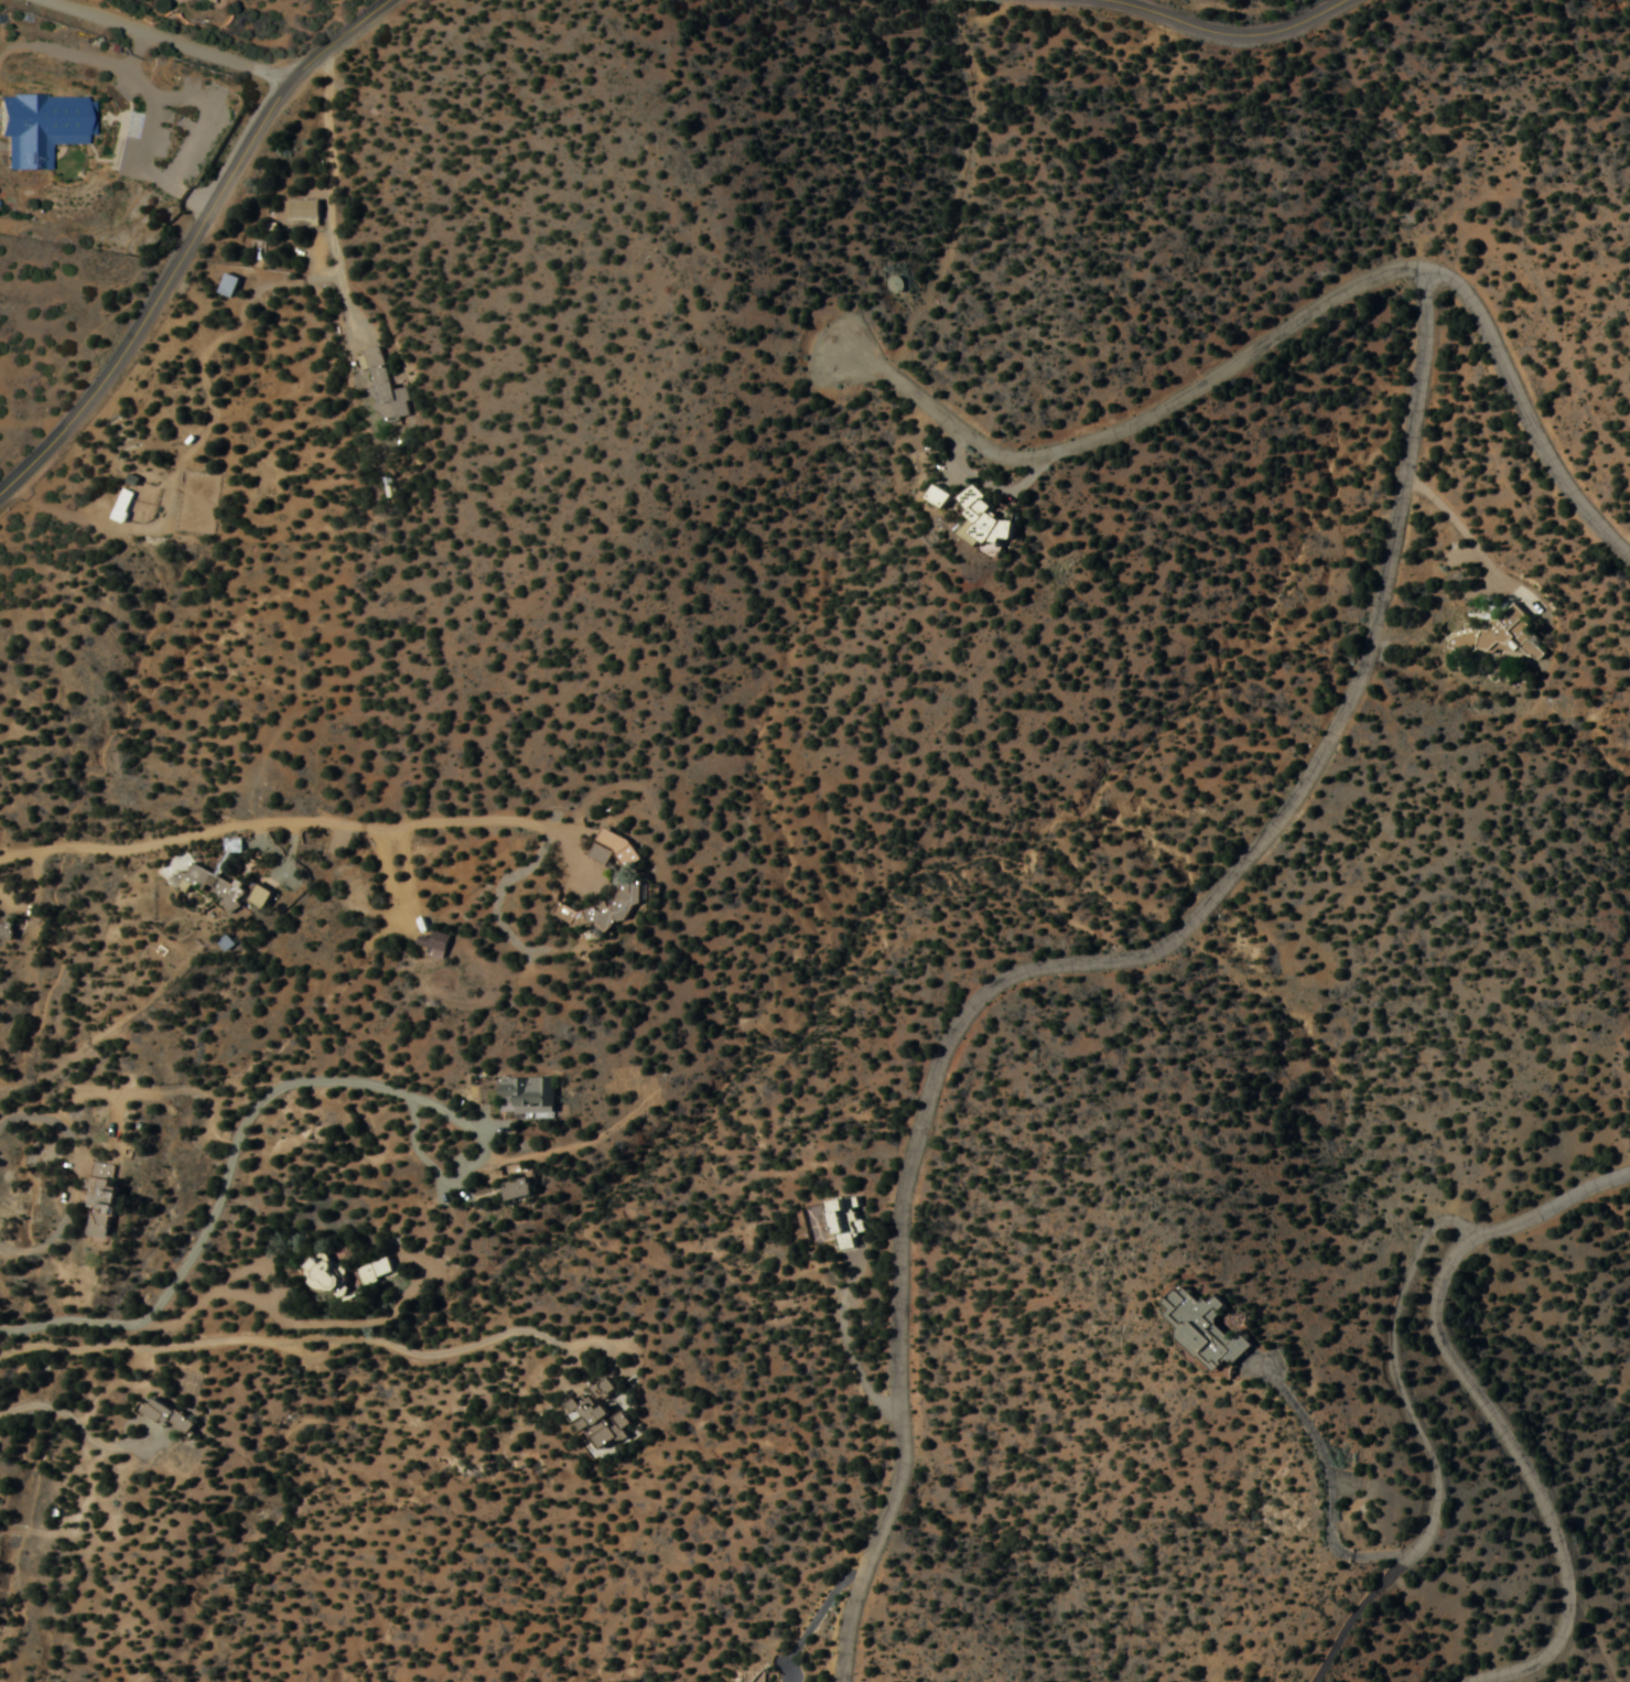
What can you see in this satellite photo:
building: (204, 0)
road: (1226, 32)
road: (165, 40)
building: (303, 208)
road: (191, 241)
building: (229, 284)
road: (1287, 330)
building: (386, 388)
building: (939, 496)
building: (121, 504)
building: (984, 522)
building: (1501, 635)
road: (280, 834)
building: (614, 849)
building: (461, 866)
building: (208, 883)
building: (259, 894)
building: (606, 906)
building: (435, 942)
road: (1087, 960)
building: (527, 1096)
building: (514, 1189)
building: (98, 1206)
building: (844, 1222)
building: (371, 1271)
building: (326, 1277)
building: (1208, 1328)
road: (288, 1343)
road: (1480, 1400)
building: (168, 1416)
building: (595, 1417)
building: (754, 1676)

